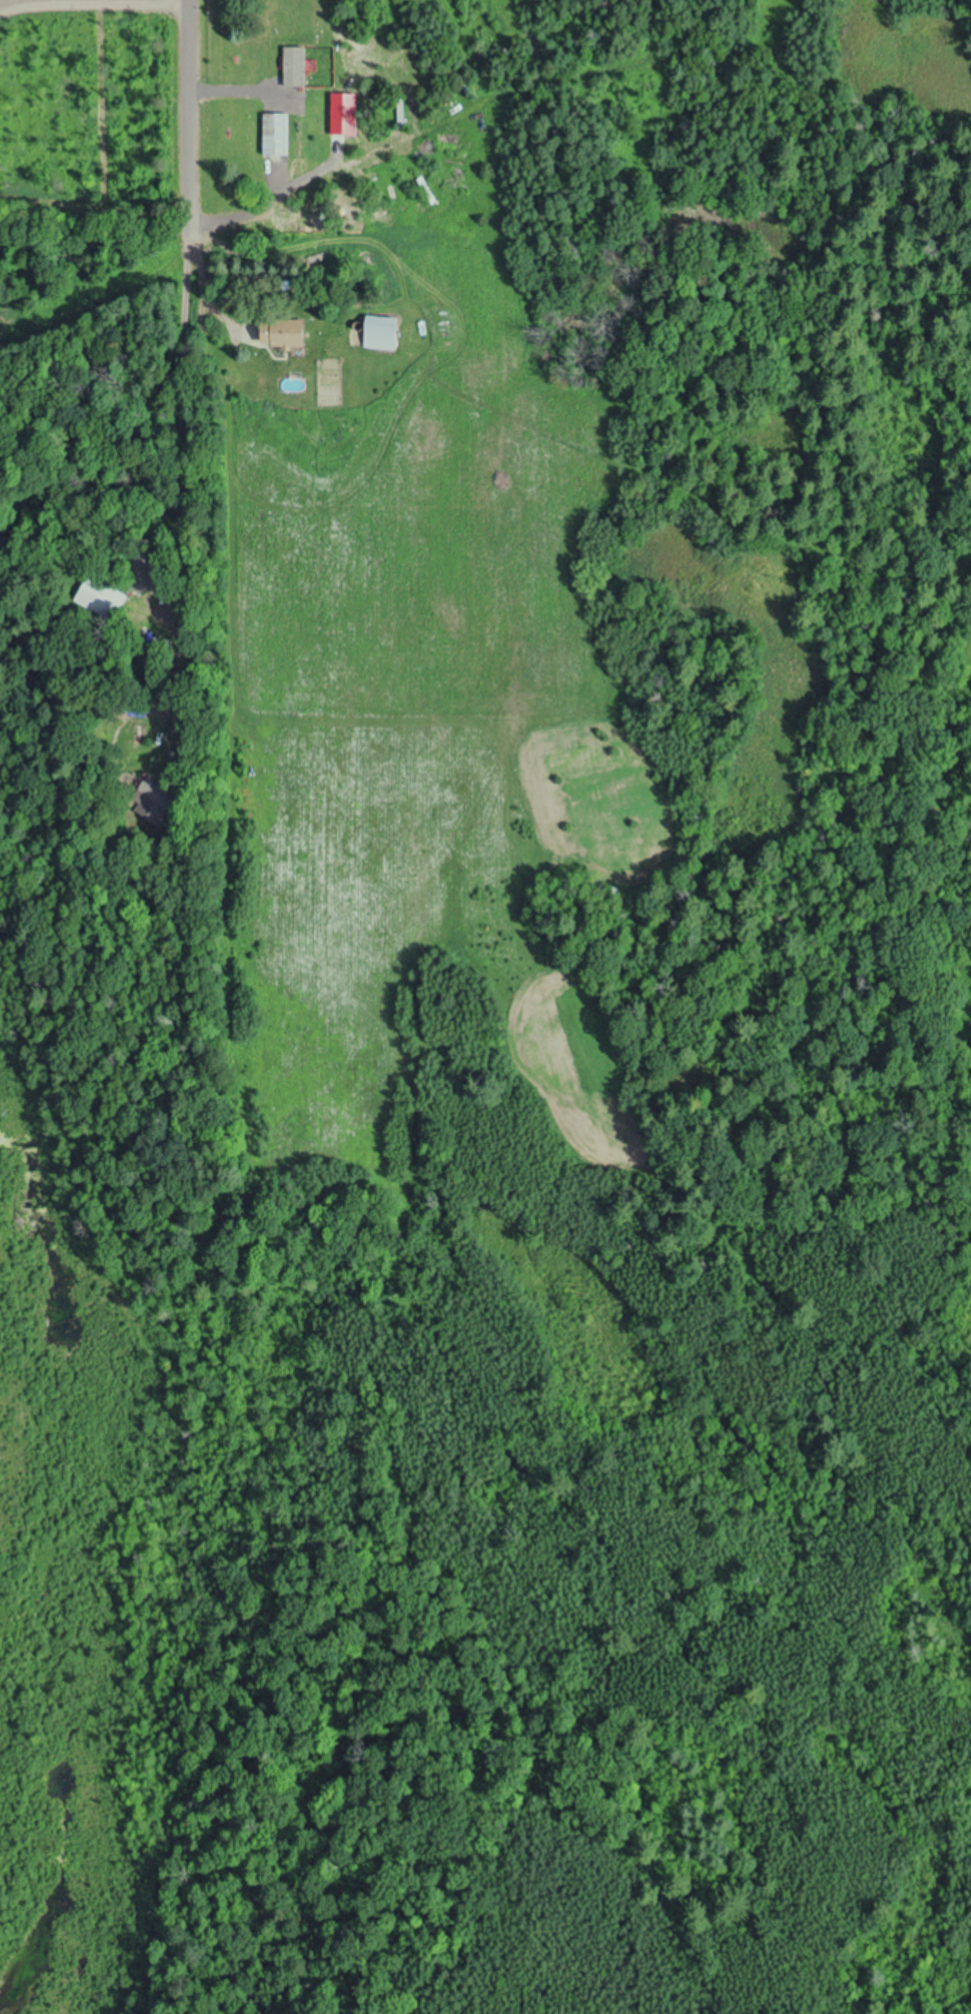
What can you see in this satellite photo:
building: (347, 114)
building: (278, 133)
building: (387, 332)
building: (295, 333)
road: (185, 356)
building: (101, 596)

